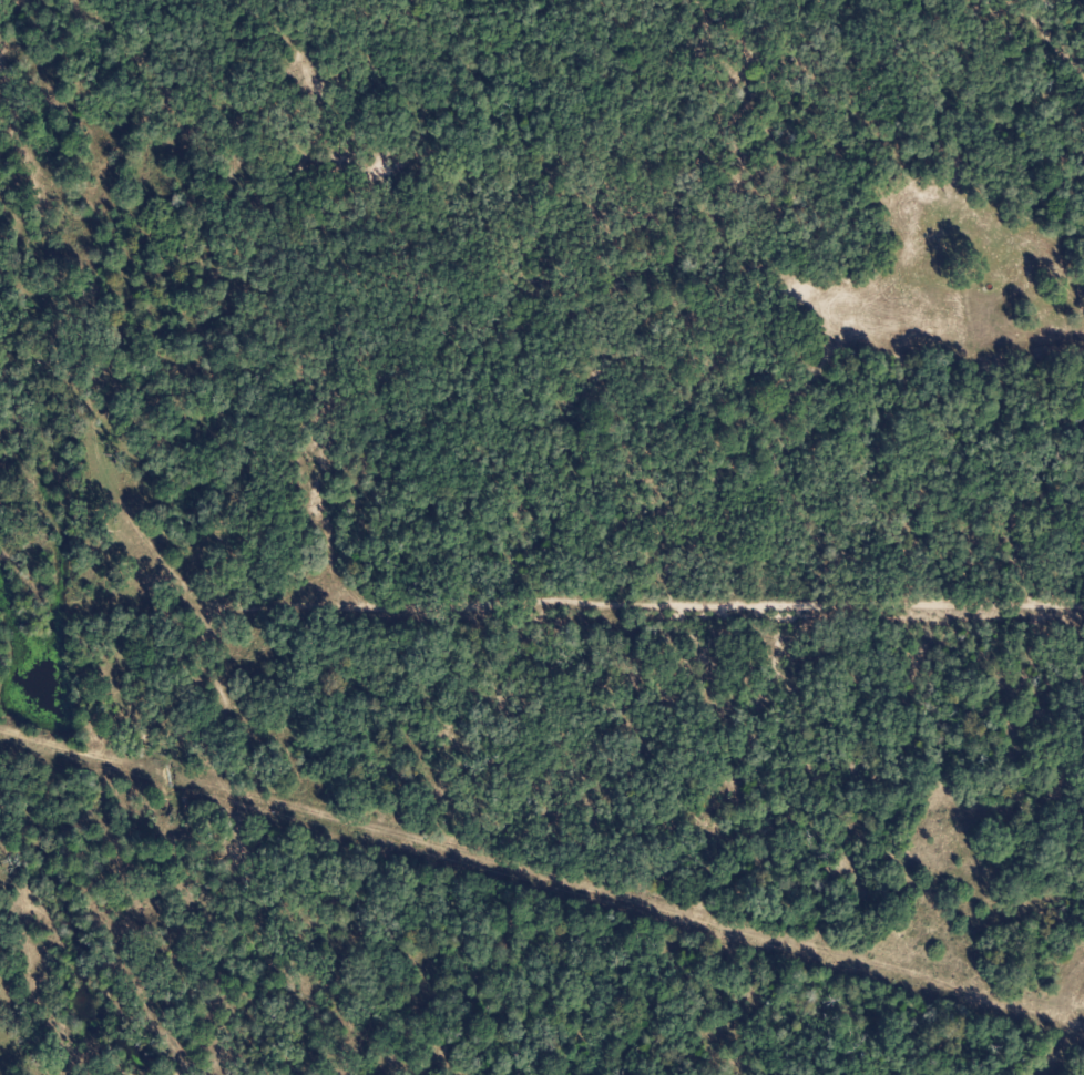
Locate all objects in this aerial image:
road: (542, 873)
road: (1054, 1046)

